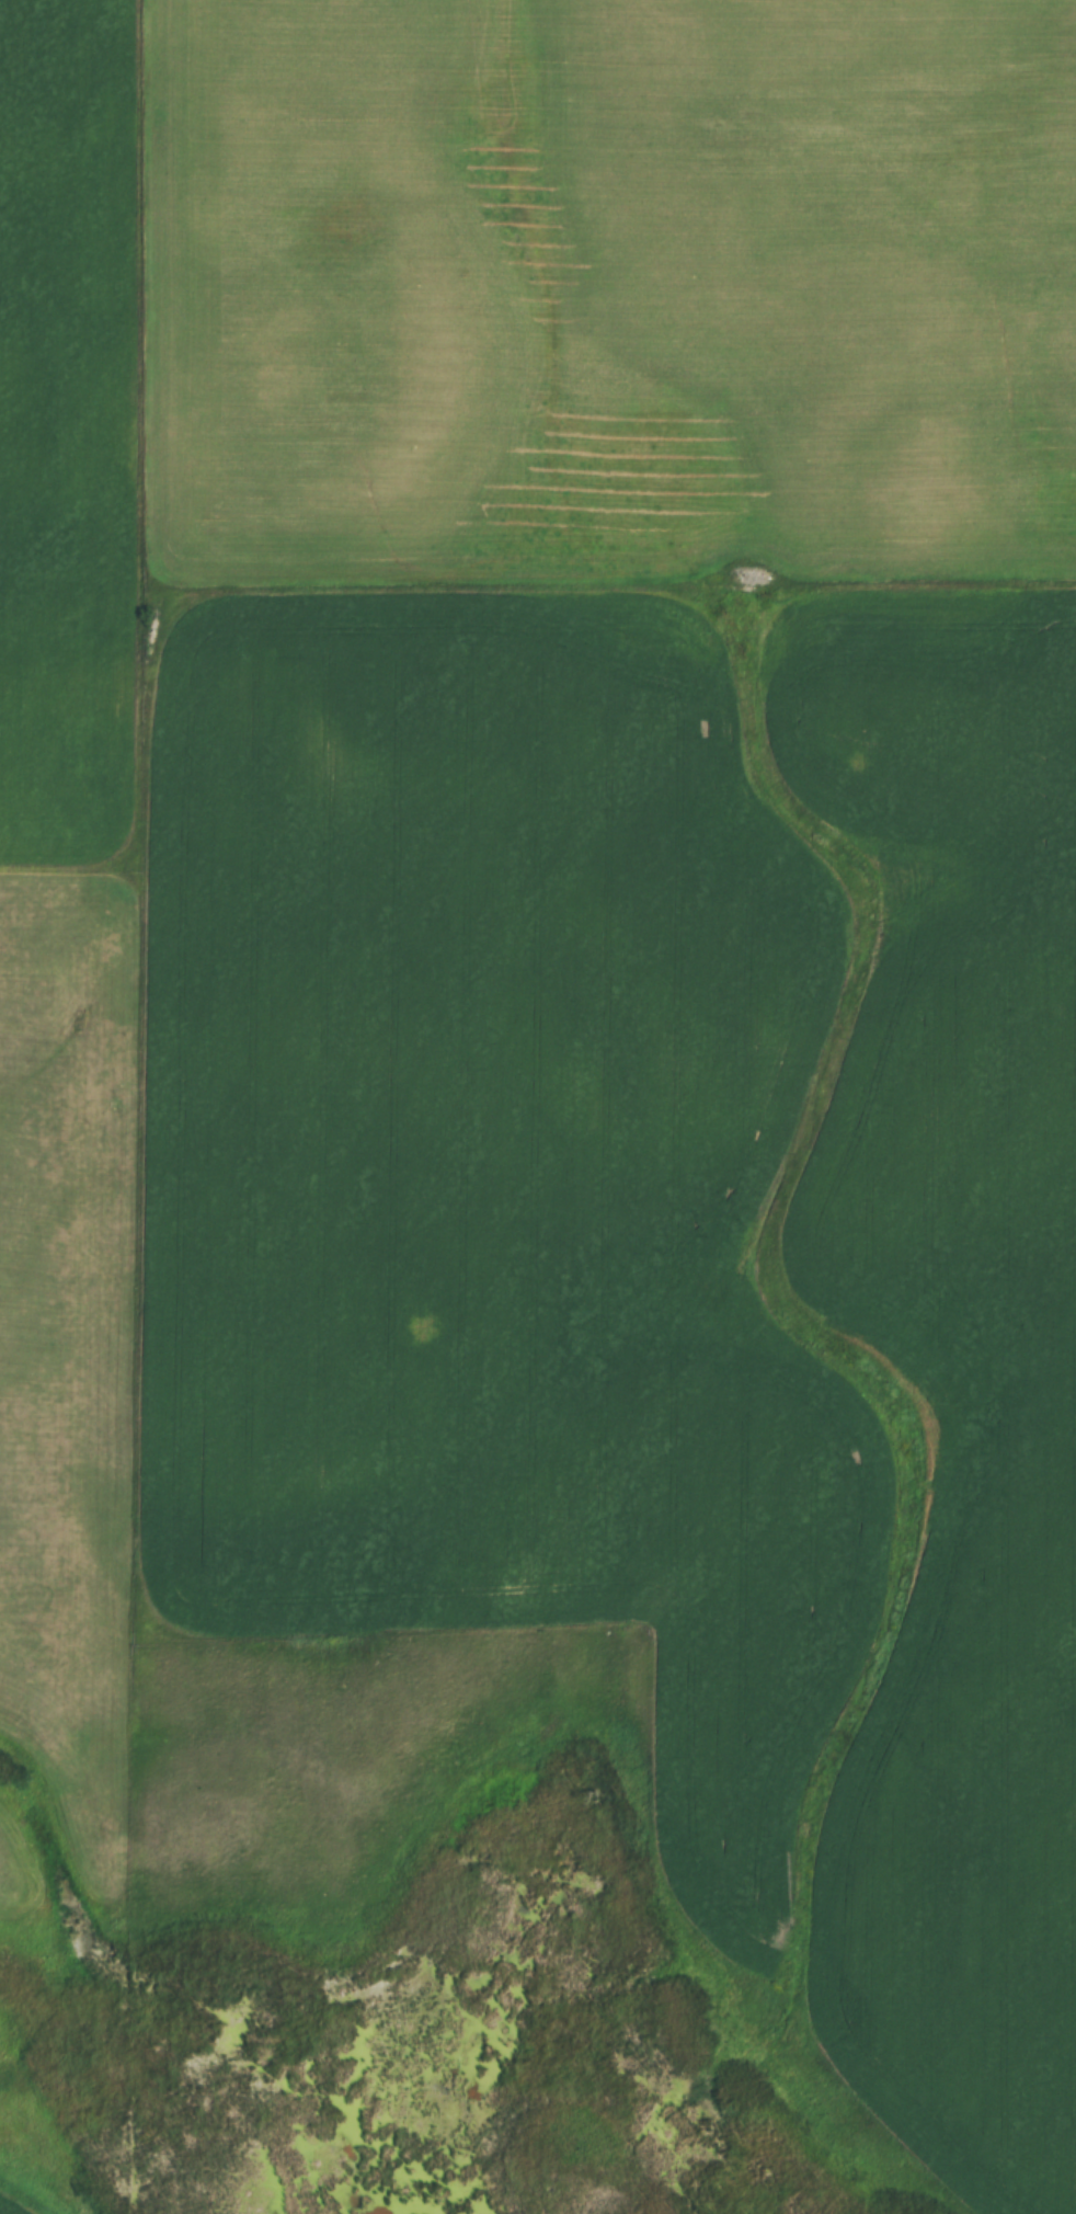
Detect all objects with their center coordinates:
river: (437, 2000)

